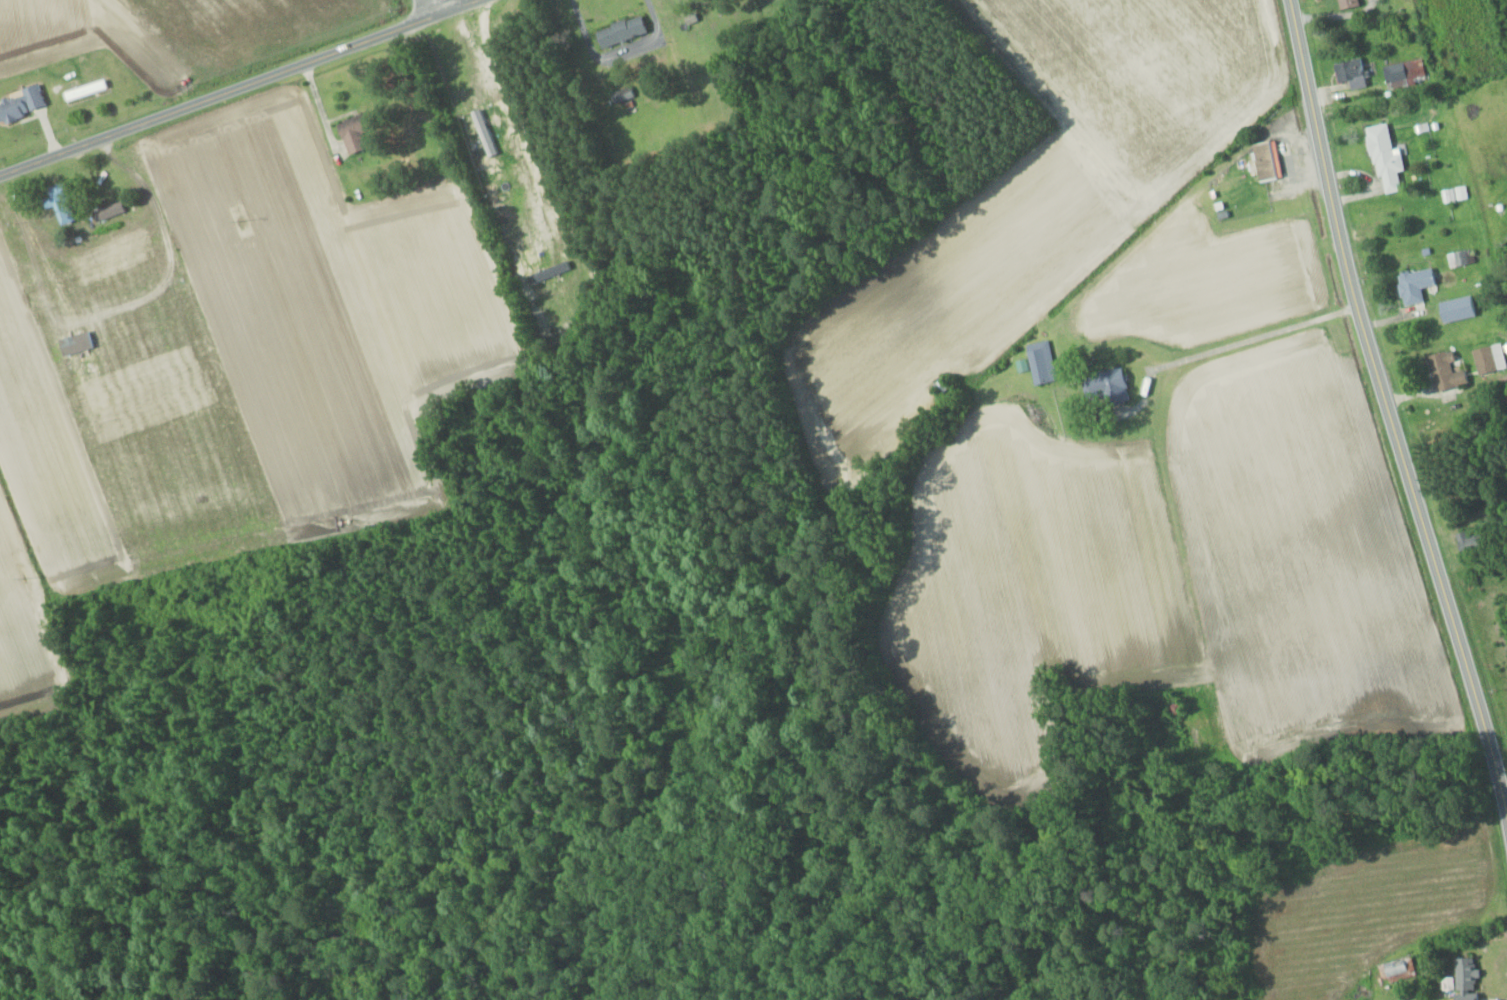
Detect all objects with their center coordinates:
building: (1345, 3)
road: (437, 6)
building: (617, 31)
building: (1349, 73)
building: (1403, 74)
road: (238, 87)
building: (619, 94)
building: (21, 103)
building: (350, 135)
building: (1383, 159)
building: (1265, 161)
building: (58, 204)
building: (106, 212)
building: (1457, 258)
building: (1412, 284)
building: (1456, 308)
building: (1488, 358)
building: (1036, 362)
building: (1443, 371)
building: (939, 385)
building: (1104, 386)
road: (1387, 409)
building: (1467, 542)
building: (1396, 966)
building: (1463, 973)

